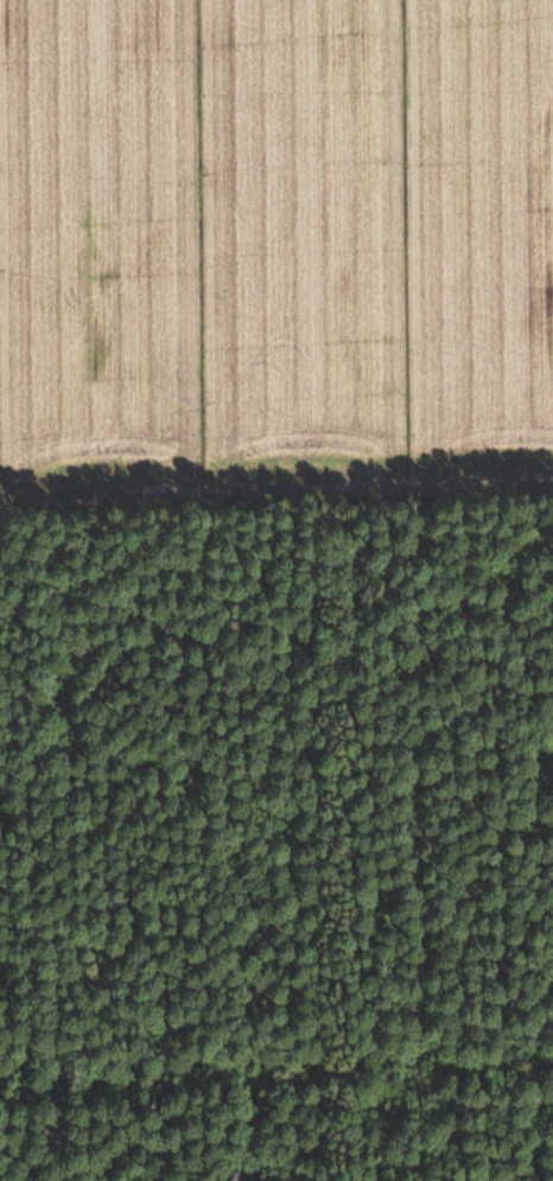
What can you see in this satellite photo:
crop: (274, 240)
road: (276, 484)

